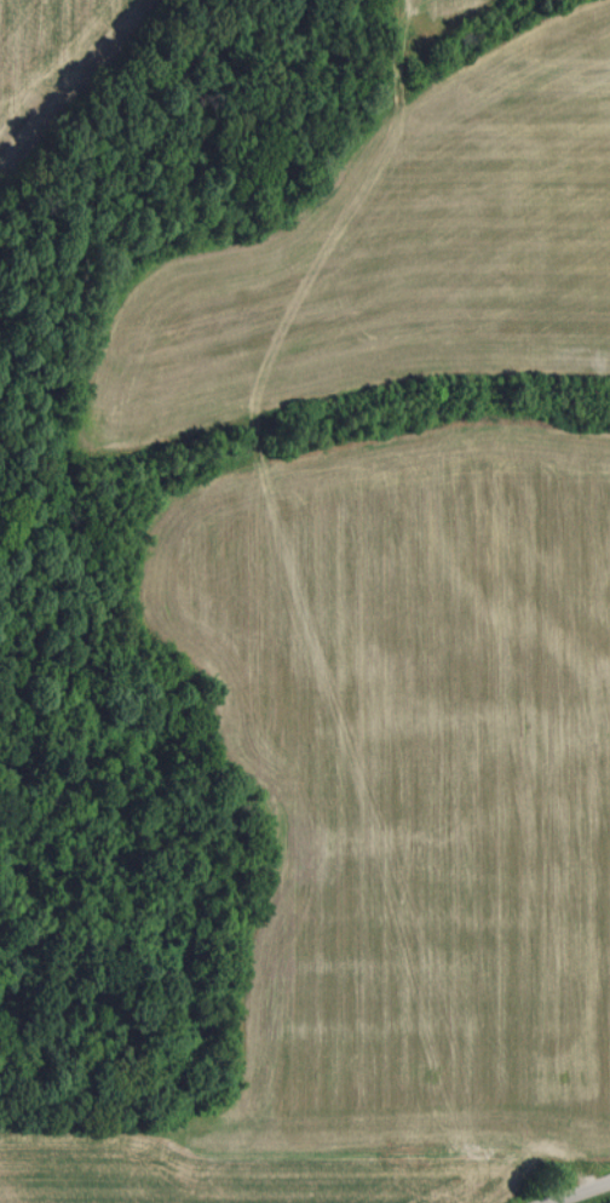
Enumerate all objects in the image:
road: (575, 1192)

